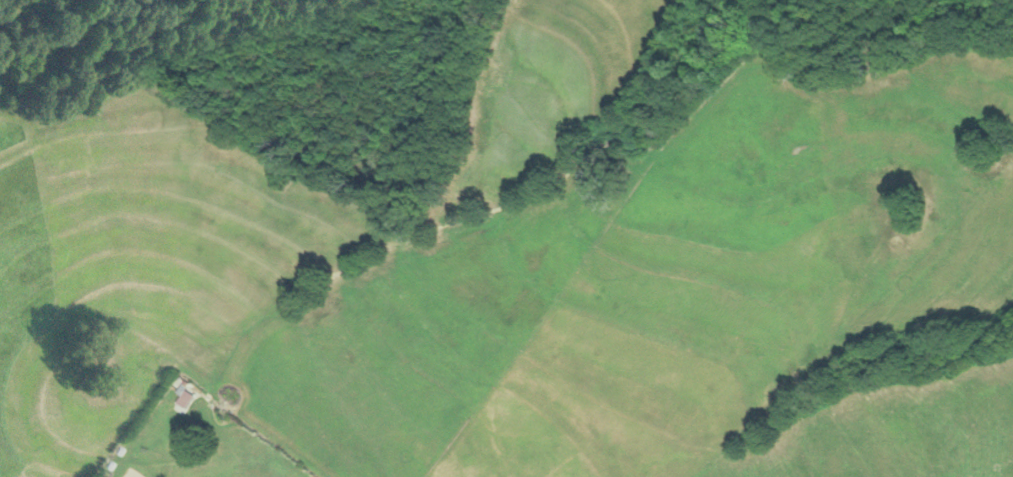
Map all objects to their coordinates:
building: (188, 399)

